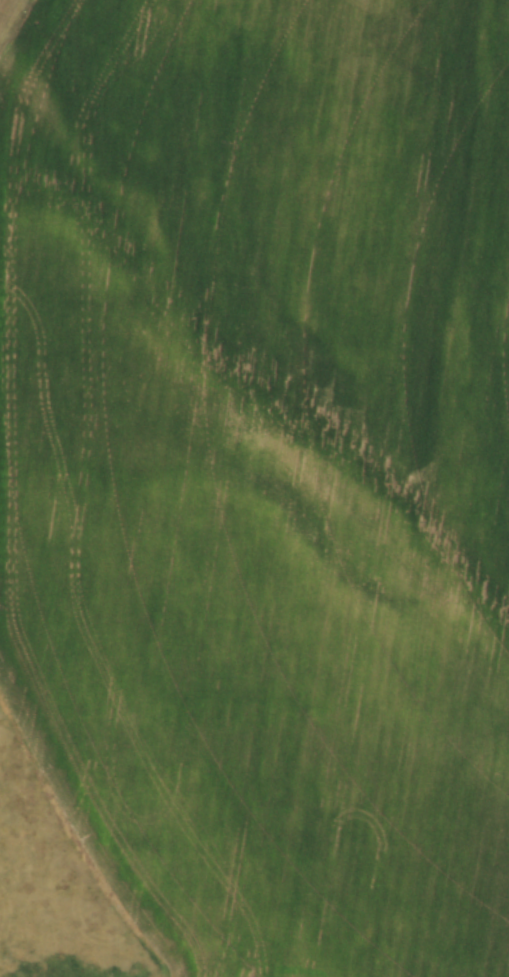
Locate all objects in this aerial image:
crop: (264, 473)

